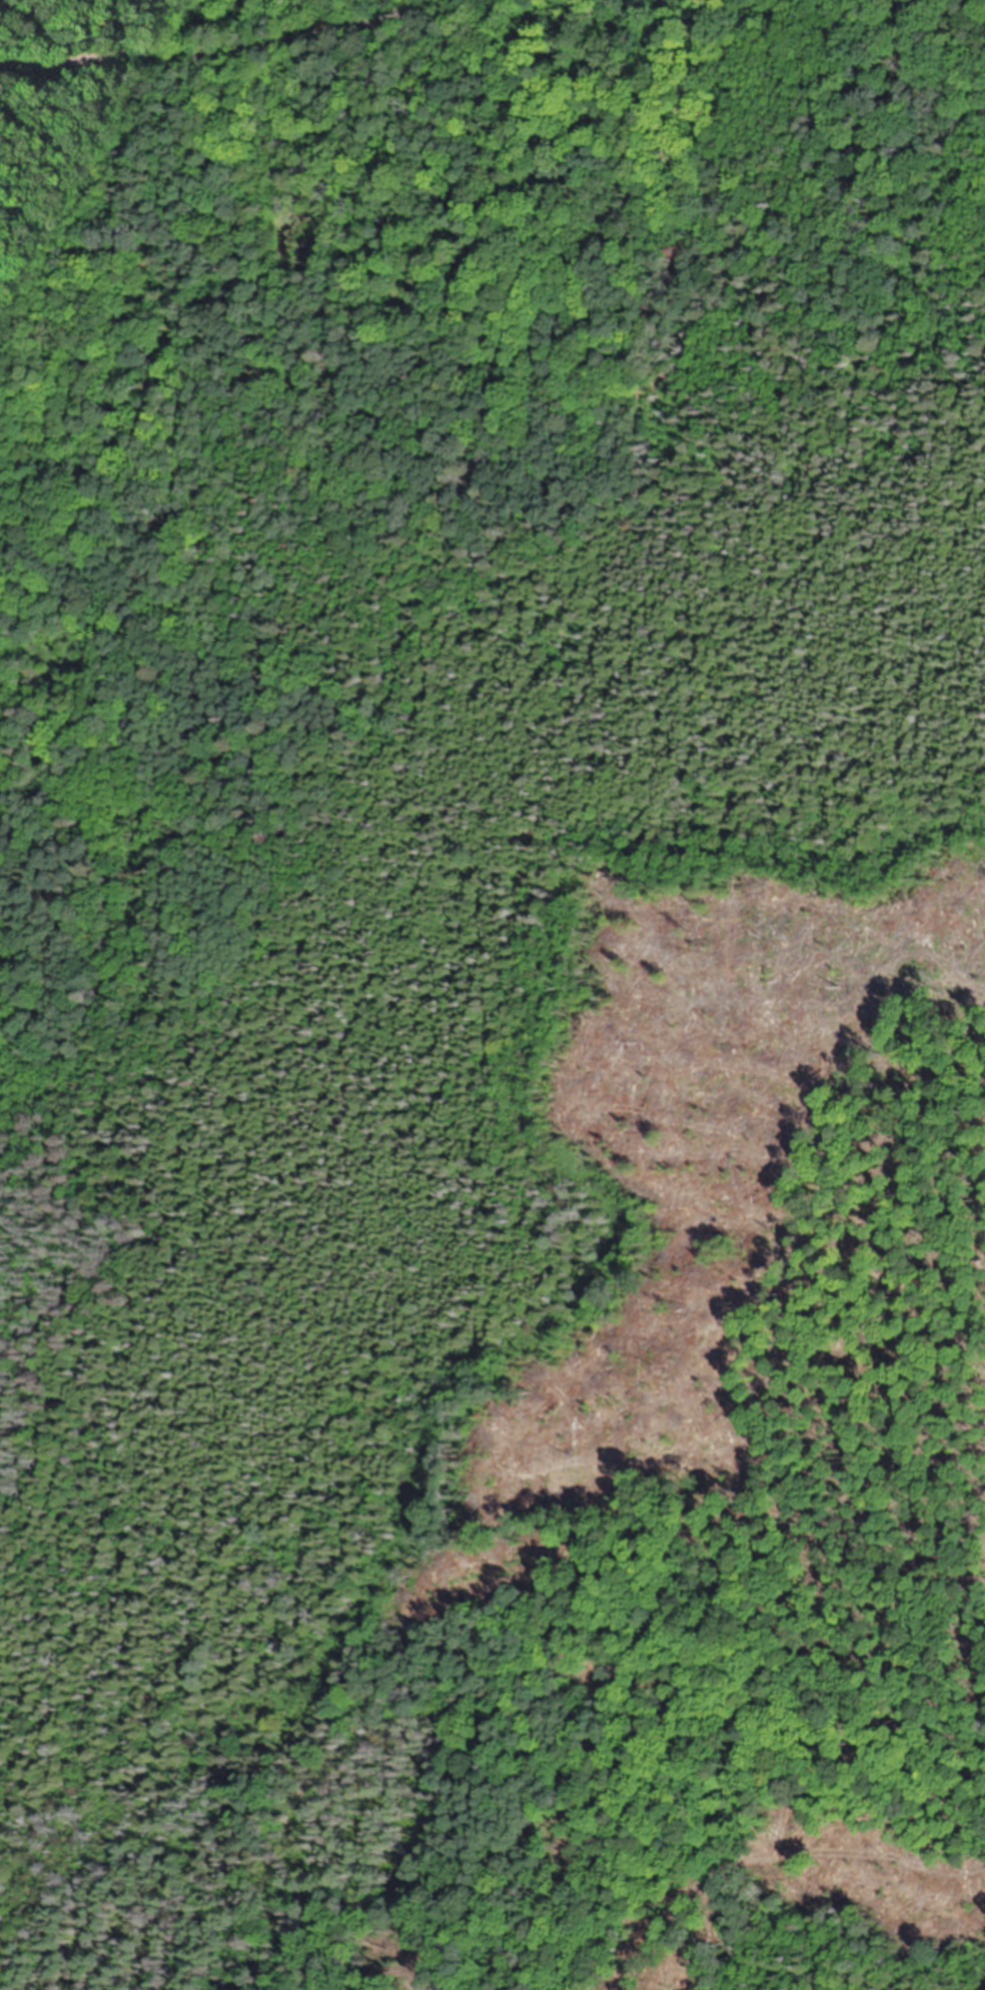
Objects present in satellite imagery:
road: (234, 50)

